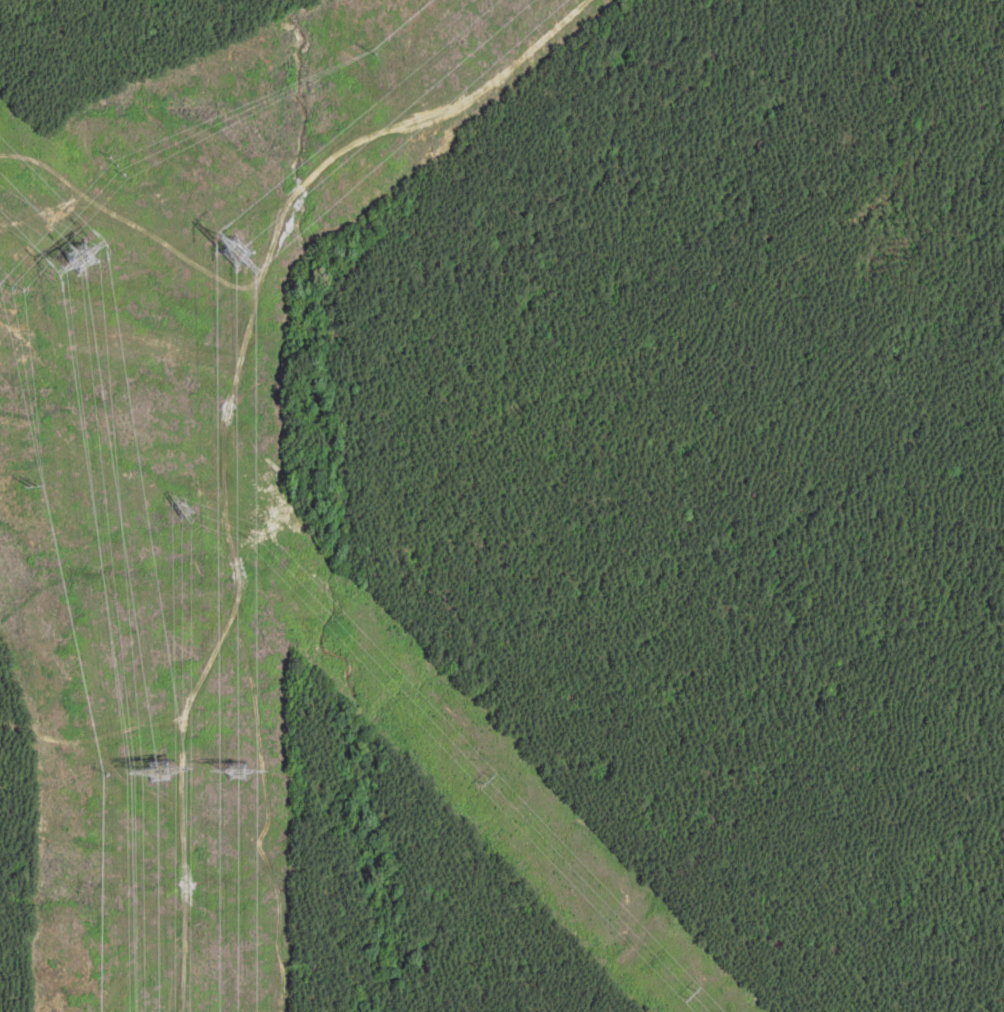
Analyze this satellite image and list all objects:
power tower: (81, 259)
power tower: (252, 264)
power tower: (183, 509)
power tower: (255, 530)
power tower: (232, 763)
power tower: (159, 772)

